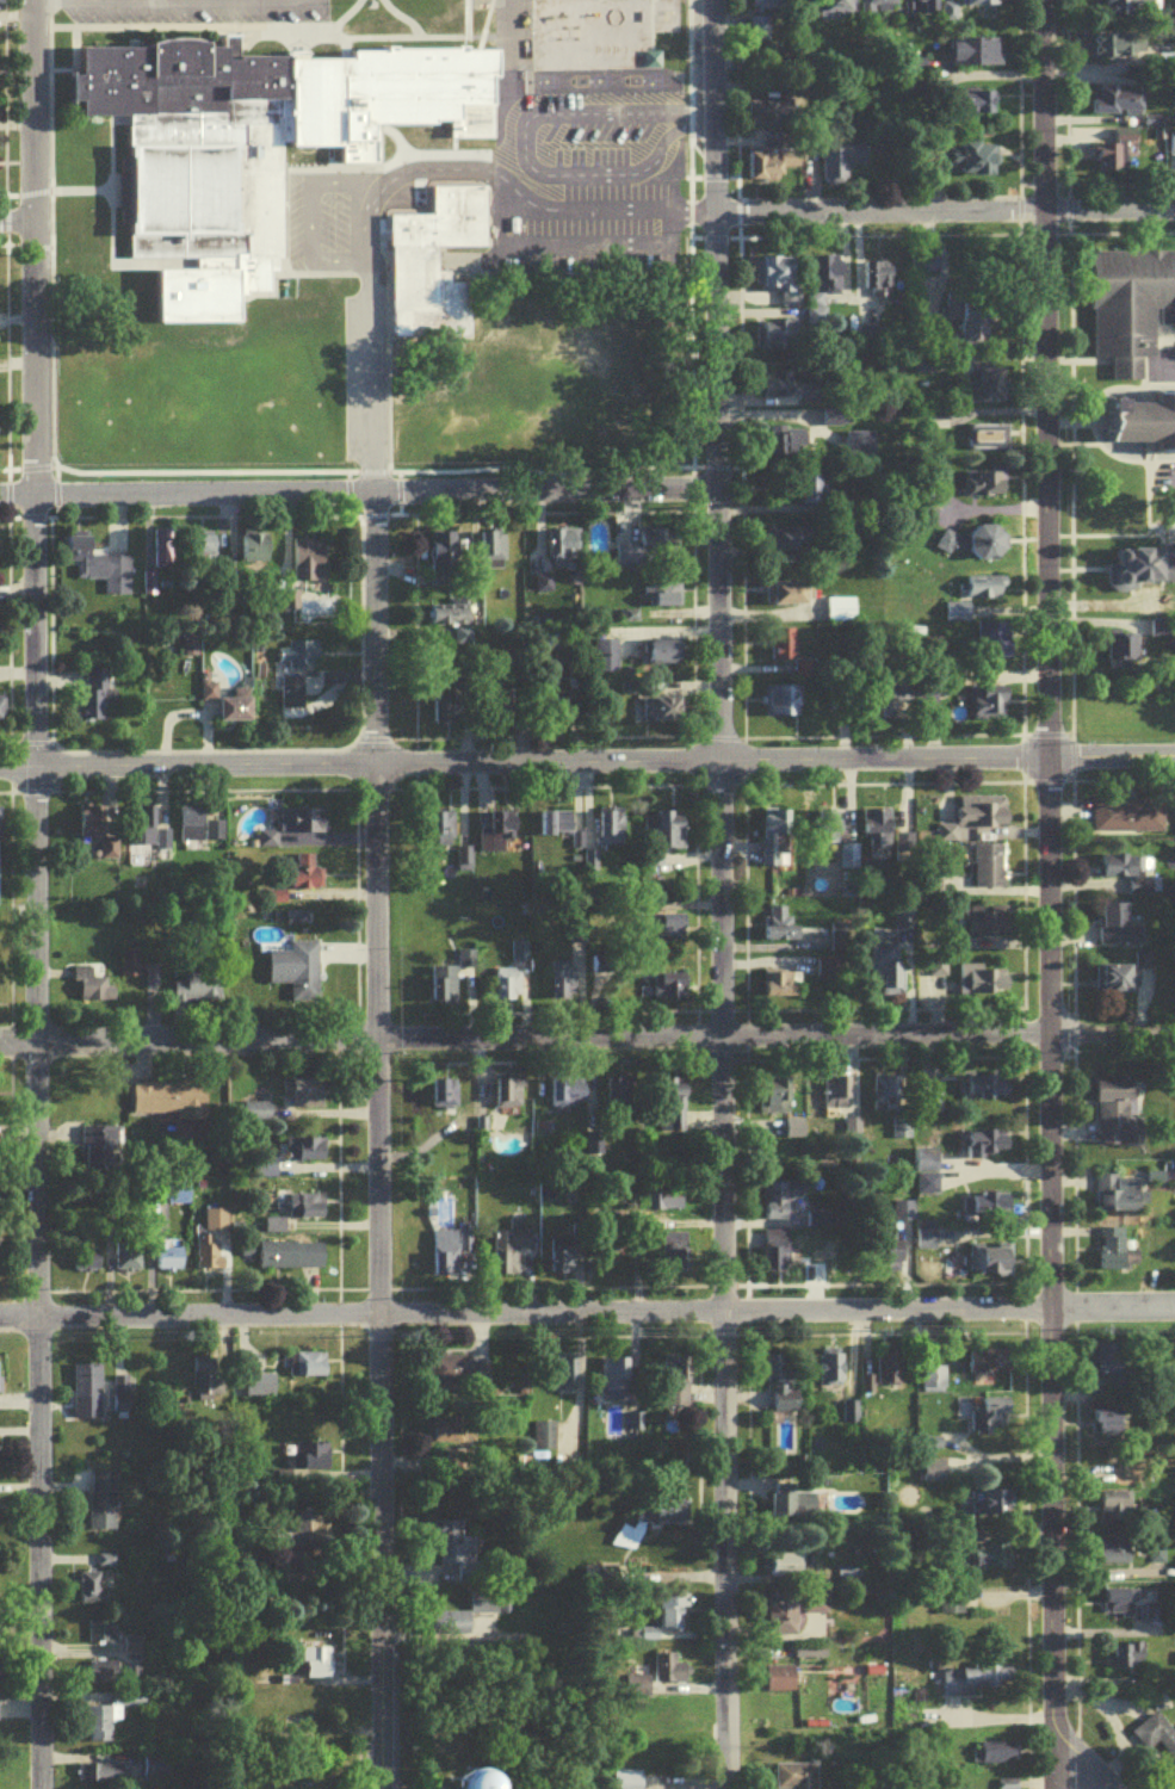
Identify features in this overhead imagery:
road: (190, 0)
building: (1, 5)
building: (840, 5)
building: (982, 5)
building: (1131, 7)
building: (771, 8)
building: (880, 8)
building: (929, 10)
parking lot: (186, 16)
building: (1119, 49)
building: (976, 56)
building: (978, 106)
building: (1115, 106)
building: (769, 117)
building: (1170, 149)
building: (1113, 156)
building: (258, 157)
building: (972, 163)
building: (841, 165)
building: (771, 168)
road: (605, 178)
parking lot: (596, 180)
road: (1108, 212)
road: (877, 216)
road: (13, 221)
parking lot: (330, 233)
building: (429, 252)
building: (781, 283)
building: (873, 284)
building: (821, 289)
building: (1130, 311)
building: (969, 323)
building: (775, 339)
road: (371, 357)
building: (778, 391)
building: (984, 391)
building: (1143, 425)
building: (985, 442)
building: (784, 447)
road: (1173, 481)
building: (987, 484)
building: (810, 493)
road: (355, 495)
building: (781, 545)
building: (987, 547)
building: (562, 549)
building: (203, 550)
building: (253, 551)
building: (445, 552)
building: (490, 552)
building: (645, 553)
building: (168, 565)
building: (308, 565)
building: (1150, 567)
building: (100, 570)
building: (982, 592)
building: (790, 598)
building: (661, 599)
building: (311, 611)
building: (1148, 612)
building: (837, 615)
building: (950, 615)
building: (452, 627)
building: (1157, 634)
building: (991, 645)
building: (781, 650)
building: (1121, 652)
building: (664, 657)
building: (302, 660)
building: (604, 661)
building: (909, 697)
building: (97, 699)
building: (292, 700)
building: (779, 706)
building: (989, 706)
building: (1, 711)
building: (237, 712)
building: (660, 714)
road: (1109, 761)
road: (521, 764)
building: (979, 818)
building: (1125, 822)
building: (873, 823)
building: (557, 828)
building: (202, 830)
building: (295, 830)
building: (0, 831)
building: (143, 831)
building: (610, 831)
building: (99, 834)
building: (441, 834)
building: (663, 835)
building: (496, 836)
building: (772, 842)
building: (987, 871)
building: (1126, 877)
road: (31, 895)
road: (715, 895)
road: (1045, 895)
building: (987, 926)
building: (673, 929)
building: (778, 929)
building: (1112, 929)
building: (834, 961)
building: (130, 968)
building: (934, 973)
building: (297, 974)
building: (1124, 980)
building: (890, 984)
building: (562, 986)
building: (982, 986)
building: (784, 988)
building: (444, 990)
building: (506, 990)
building: (669, 991)
building: (197, 995)
road: (587, 1040)
building: (984, 1094)
building: (508, 1097)
building: (567, 1097)
building: (303, 1098)
building: (444, 1098)
building: (884, 1100)
building: (171, 1104)
building: (772, 1106)
building: (672, 1114)
building: (258, 1118)
building: (1114, 1118)
building: (898, 1134)
building: (785, 1135)
road: (378, 1141)
building: (594, 1147)
building: (987, 1149)
building: (101, 1152)
building: (308, 1156)
building: (924, 1177)
building: (1113, 1199)
building: (669, 1205)
building: (780, 1205)
building: (989, 1211)
building: (308, 1212)
building: (902, 1215)
building: (216, 1225)
building: (276, 1231)
building: (924, 1244)
building: (673, 1252)
building: (512, 1255)
building: (777, 1256)
building: (1117, 1256)
building: (446, 1257)
building: (128, 1259)
building: (291, 1261)
building: (563, 1261)
building: (211, 1262)
building: (892, 1262)
building: (87, 1263)
building: (169, 1263)
building: (989, 1264)
road: (1109, 1310)
road: (522, 1317)
building: (985, 1367)
building: (1109, 1368)
building: (308, 1369)
building: (889, 1370)
building: (830, 1374)
building: (453, 1375)
building: (563, 1378)
building: (616, 1379)
building: (932, 1383)
building: (206, 1386)
building: (675, 1387)
building: (781, 1389)
building: (258, 1391)
building: (87, 1397)
building: (985, 1420)
building: (1107, 1431)
building: (314, 1461)
building: (933, 1477)
building: (1127, 1485)
building: (792, 1508)
building: (104, 1509)
building: (996, 1509)
building: (1114, 1512)
building: (310, 1534)
building: (454, 1556)
building: (1113, 1558)
building: (985, 1561)
building: (107, 1565)
building: (785, 1570)
building: (93, 1593)
building: (815, 1607)
building: (1118, 1609)
building: (675, 1616)
building: (783, 1617)
building: (103, 1636)
building: (1128, 1661)
building: (319, 1667)
building: (669, 1673)
building: (105, 1677)
building: (976, 1685)
building: (781, 1689)
building: (0, 1691)
building: (106, 1722)
building: (1157, 1739)
building: (997, 1758)
road: (1076, 1764)
building: (101, 1778)
building: (793, 1778)
building: (630, 1783)
building: (490, 1784)
water tower: (465, 1788)

